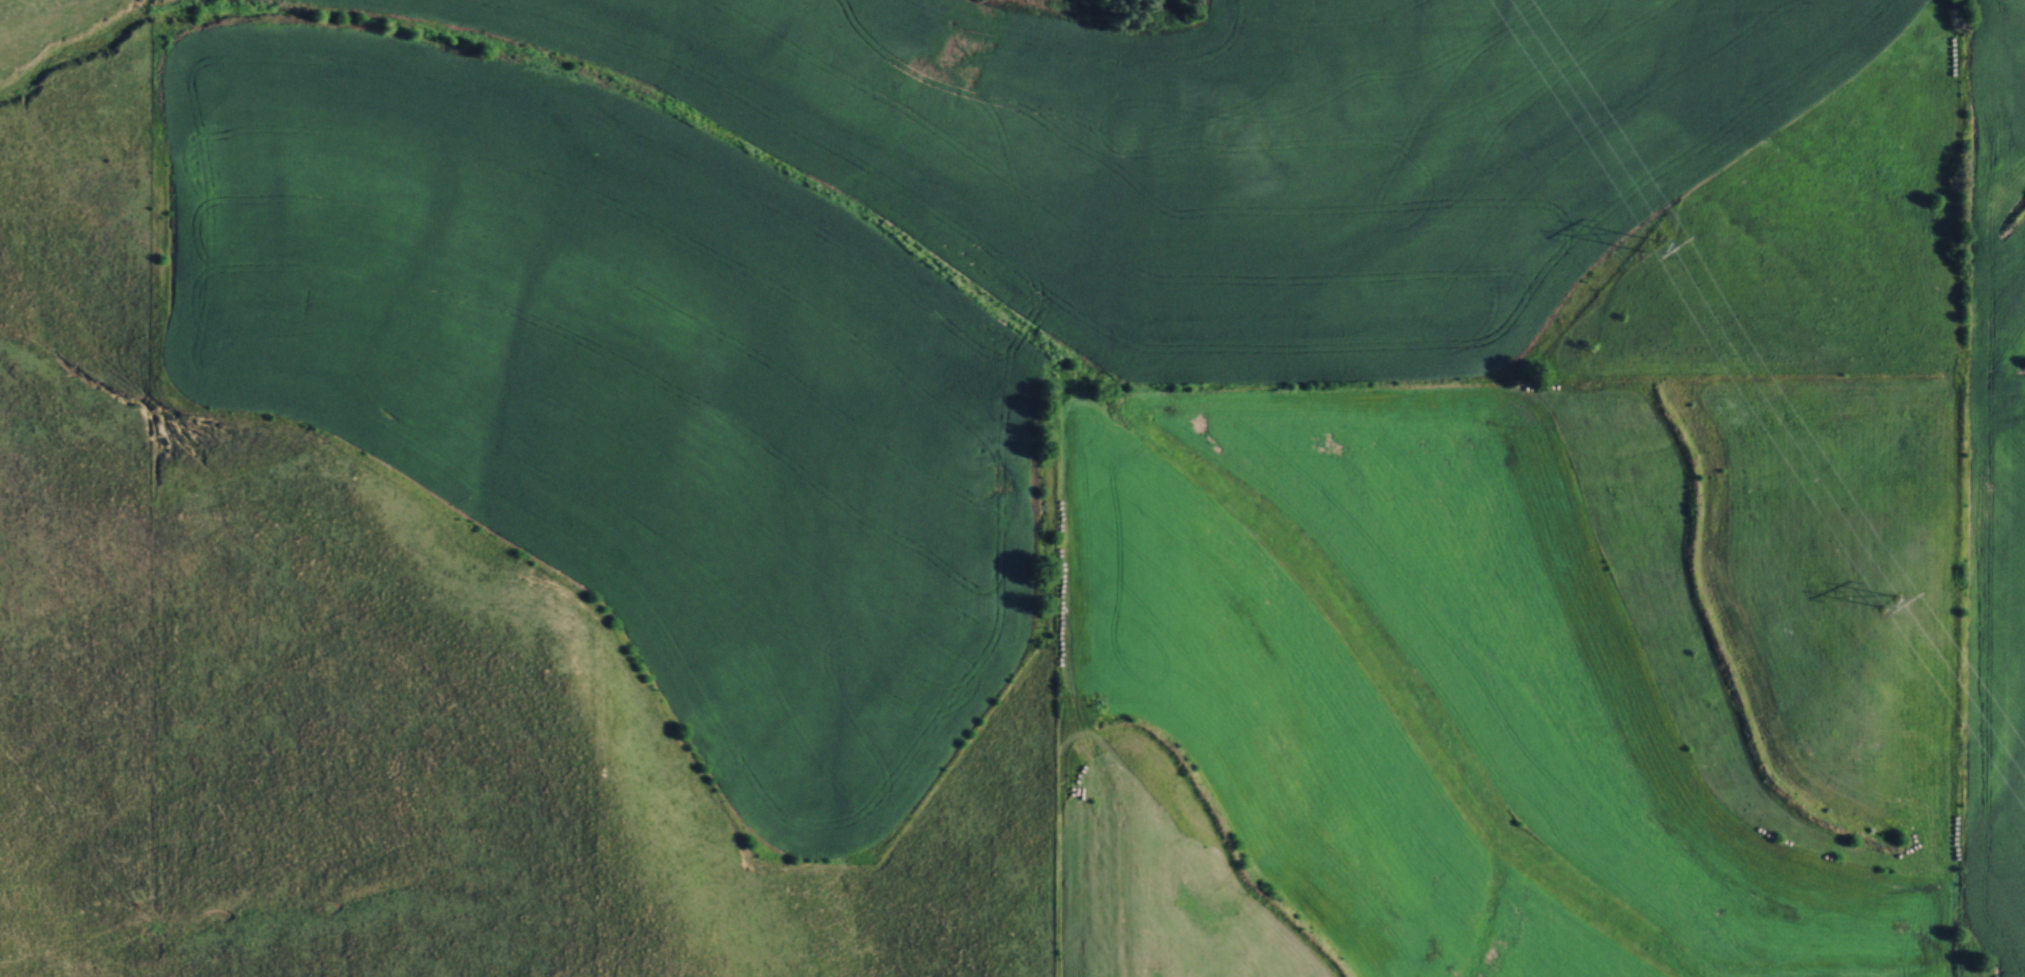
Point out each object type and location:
power tower: (1652, 244)
power tower: (1889, 598)

